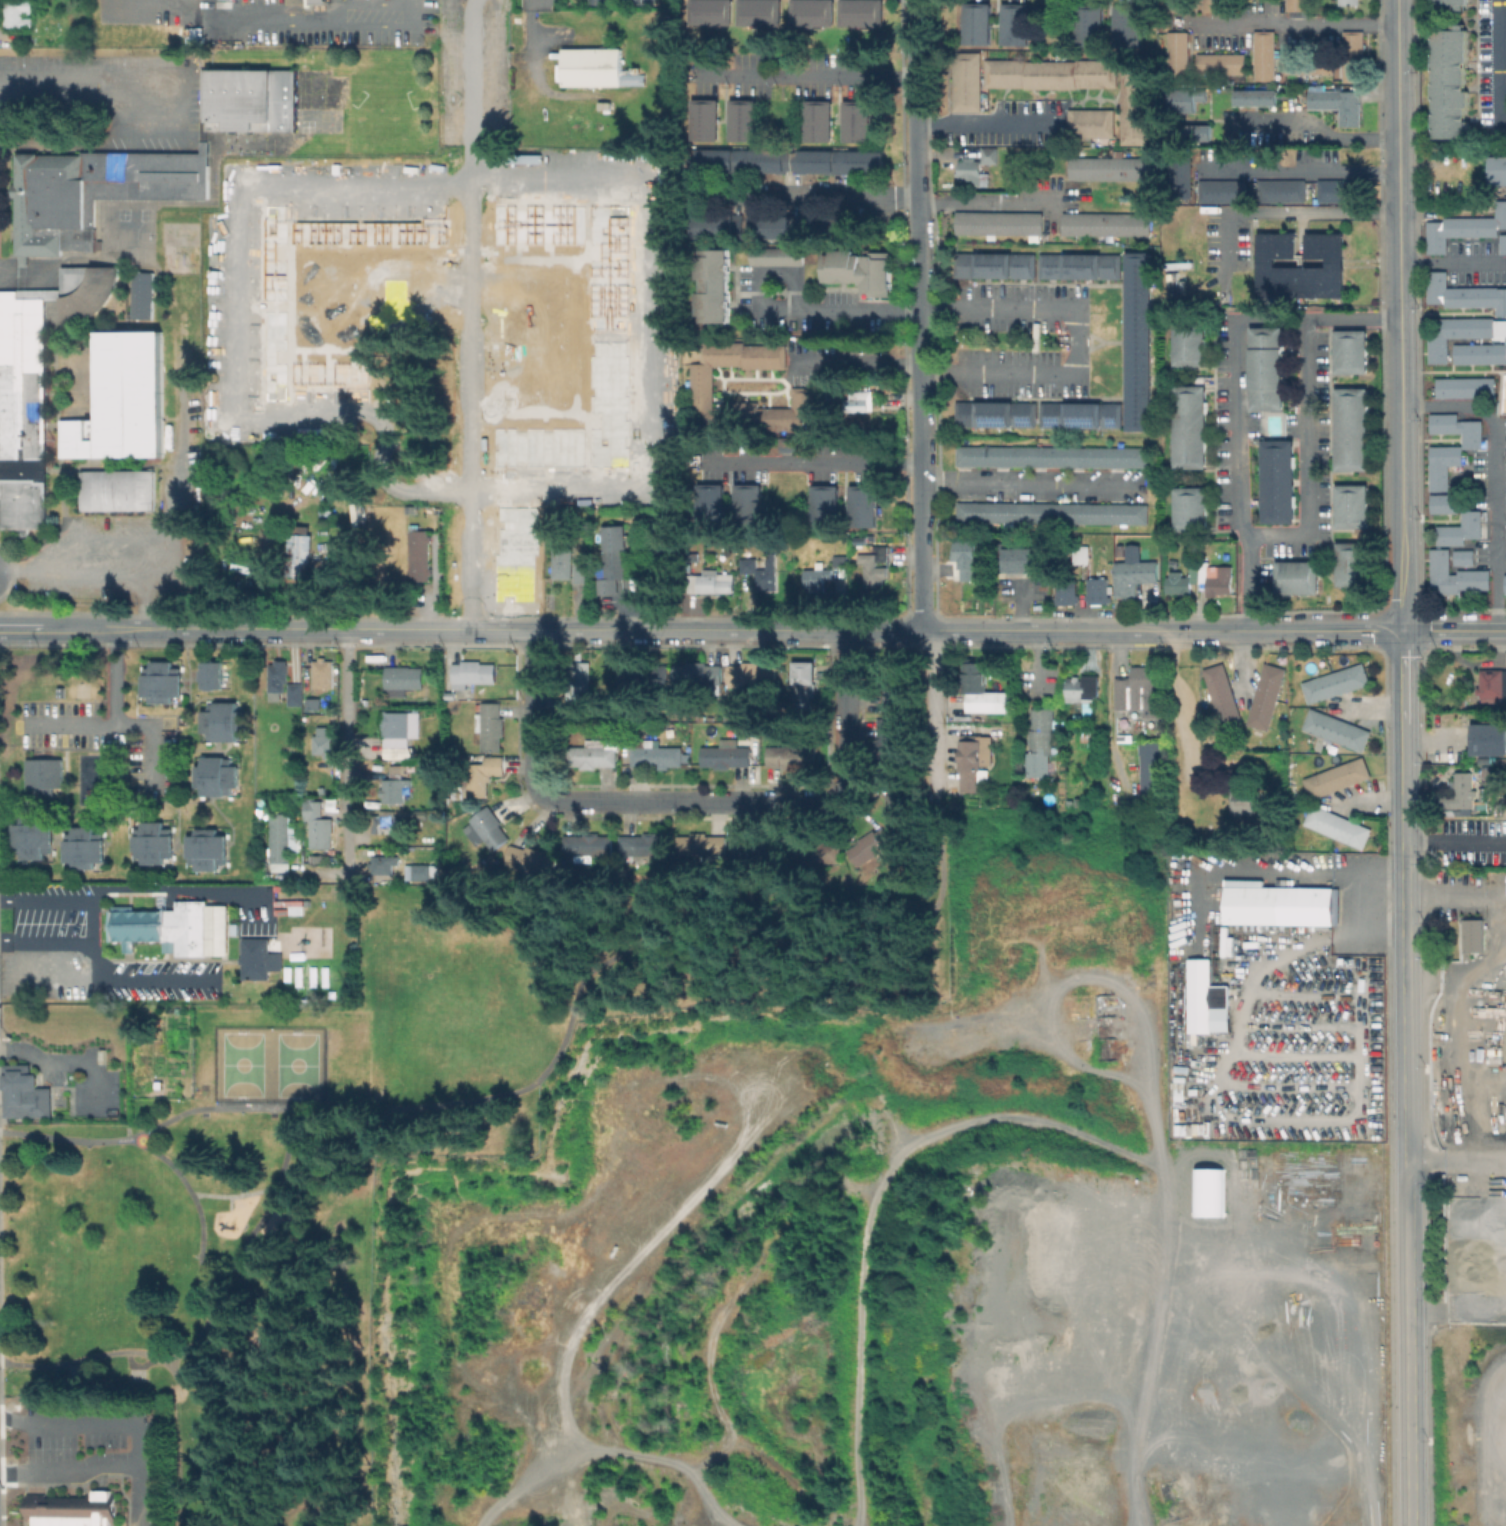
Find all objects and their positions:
building: (316, 1)
road: (410, 1)
building: (1349, 2)
building: (1453, 3)
building: (1211, 5)
building: (1294, 5)
building: (712, 11)
building: (762, 12)
building: (814, 12)
building: (17, 13)
building: (862, 13)
building: (979, 22)
building: (1017, 23)
building: (1091, 24)
road: (1293, 24)
road: (221, 25)
road: (332, 25)
building: (1128, 26)
building: (1262, 55)
building: (1175, 56)
building: (1350, 56)
road: (1502, 61)
building: (1218, 63)
building: (1307, 63)
building: (596, 67)
building: (1486, 69)
road: (810, 73)
building: (1051, 73)
building: (968, 81)
building: (1453, 83)
road: (85, 89)
building: (206, 97)
building: (1254, 97)
building: (241, 99)
building: (1186, 99)
building: (283, 103)
building: (1135, 103)
building: (1336, 104)
building: (607, 106)
building: (706, 119)
building: (744, 119)
building: (860, 119)
building: (819, 120)
building: (1092, 122)
road: (1322, 131)
building: (1199, 132)
building: (1500, 136)
road: (1041, 158)
building: (741, 159)
building: (814, 161)
building: (857, 161)
building: (976, 166)
building: (1110, 167)
road: (1296, 168)
building: (1498, 170)
building: (1177, 174)
building: (137, 183)
building: (1220, 190)
building: (1279, 190)
building: (1339, 190)
road: (836, 196)
building: (49, 201)
road: (1288, 212)
rooftop solar panel: (1130, 217)
building: (1000, 222)
building: (1107, 223)
building: (836, 225)
building: (718, 226)
building: (773, 226)
building: (1465, 228)
building: (1504, 243)
building: (778, 257)
building: (1336, 264)
building: (996, 265)
building: (1081, 265)
road: (1453, 265)
building: (865, 271)
building: (1174, 283)
building: (716, 287)
building: (1464, 294)
building: (144, 295)
road: (843, 310)
road: (467, 313)
road: (920, 315)
road: (652, 330)
road: (229, 333)
building: (1139, 339)
road: (1077, 340)
building: (1438, 342)
building: (1191, 346)
building: (1352, 353)
road: (862, 361)
building: (1269, 369)
building: (702, 377)
building: (35, 386)
building: (1466, 387)
road: (1234, 393)
building: (132, 395)
building: (859, 400)
building: (997, 413)
building: (1082, 414)
rooftop solar panel: (1018, 422)
rooftop solar panel: (992, 424)
rooftop solar panel: (1025, 424)
rooftop solar panel: (1051, 424)
rooftop solar panel: (1108, 424)
rooftop solar panel: (1080, 425)
building: (1192, 428)
building: (1459, 428)
building: (1353, 430)
building: (80, 436)
building: (786, 445)
road: (1307, 454)
building: (973, 455)
building: (1012, 456)
building: (1050, 456)
building: (1089, 456)
building: (1127, 456)
road: (816, 463)
building: (1444, 465)
road: (1498, 476)
building: (1279, 482)
road: (1029, 486)
building: (119, 490)
building: (713, 503)
building: (1446, 503)
building: (750, 504)
building: (827, 505)
building: (864, 505)
building: (1353, 507)
building: (1192, 509)
building: (972, 511)
building: (1010, 512)
building: (1049, 512)
building: (1088, 513)
building: (1126, 513)
building: (1461, 529)
building: (862, 538)
building: (662, 546)
building: (420, 554)
building: (301, 557)
building: (1464, 557)
building: (615, 558)
building: (1025, 559)
building: (841, 560)
building: (564, 562)
building: (1353, 564)
building: (582, 565)
building: (323, 566)
building: (872, 569)
building: (763, 572)
building: (1456, 574)
building: (1298, 576)
building: (818, 577)
building: (1134, 577)
building: (1216, 579)
building: (712, 581)
building: (1184, 581)
building: (969, 582)
building: (1504, 584)
building: (1096, 591)
building: (1064, 592)
road: (753, 630)
road: (1035, 661)
building: (473, 673)
building: (697, 673)
building: (208, 674)
building: (323, 674)
building: (752, 674)
building: (643, 675)
building: (279, 676)
road: (119, 677)
building: (403, 679)
building: (159, 682)
building: (1336, 682)
building: (1494, 685)
building: (892, 686)
rooftop solar panel: (1089, 687)
building: (805, 688)
building: (580, 689)
building: (982, 689)
building: (1140, 691)
building: (1084, 693)
building: (296, 694)
building: (450, 694)
building: (1224, 696)
building: (1267, 696)
building: (314, 704)
road: (929, 705)
road: (1375, 708)
road: (1182, 713)
building: (221, 721)
building: (491, 725)
road: (126, 726)
building: (396, 728)
building: (1338, 729)
building: (1084, 735)
building: (1125, 737)
building: (1490, 739)
building: (891, 740)
building: (1041, 742)
building: (324, 744)
road: (350, 754)
building: (593, 754)
building: (658, 754)
building: (727, 754)
building: (792, 755)
road: (1404, 762)
building: (972, 763)
building: (1152, 771)
building: (42, 772)
building: (479, 774)
building: (214, 775)
building: (1337, 777)
building: (396, 784)
building: (1459, 794)
building: (901, 800)
road: (690, 801)
building: (1242, 801)
building: (413, 815)
building: (317, 822)
building: (384, 822)
building: (1338, 825)
building: (489, 827)
building: (30, 837)
road: (1455, 840)
building: (151, 842)
building: (281, 844)
building: (647, 844)
building: (703, 846)
building: (871, 846)
building: (81, 847)
building: (587, 847)
building: (204, 849)
building: (759, 851)
building: (816, 851)
building: (533, 859)
building: (384, 864)
building: (418, 873)
road: (171, 888)
road: (45, 901)
building: (1283, 905)
road: (91, 919)
road: (869, 922)
building: (173, 927)
building: (1470, 934)
road: (45, 937)
building: (259, 958)
road: (135, 978)
building: (1208, 1000)
park: (241, 1063)
park: (296, 1063)
building: (25, 1094)
road: (367, 1107)
park: (362, 1157)
road: (1457, 1166)
road: (235, 1196)
quarry: (1469, 1198)
road: (232, 1203)
road: (198, 1205)
road: (247, 1243)
road: (115, 1353)
building: (74, 1370)
building: (135, 1374)
road: (123, 1425)
road: (263, 1444)
road: (74, 1475)
building: (72, 1509)

